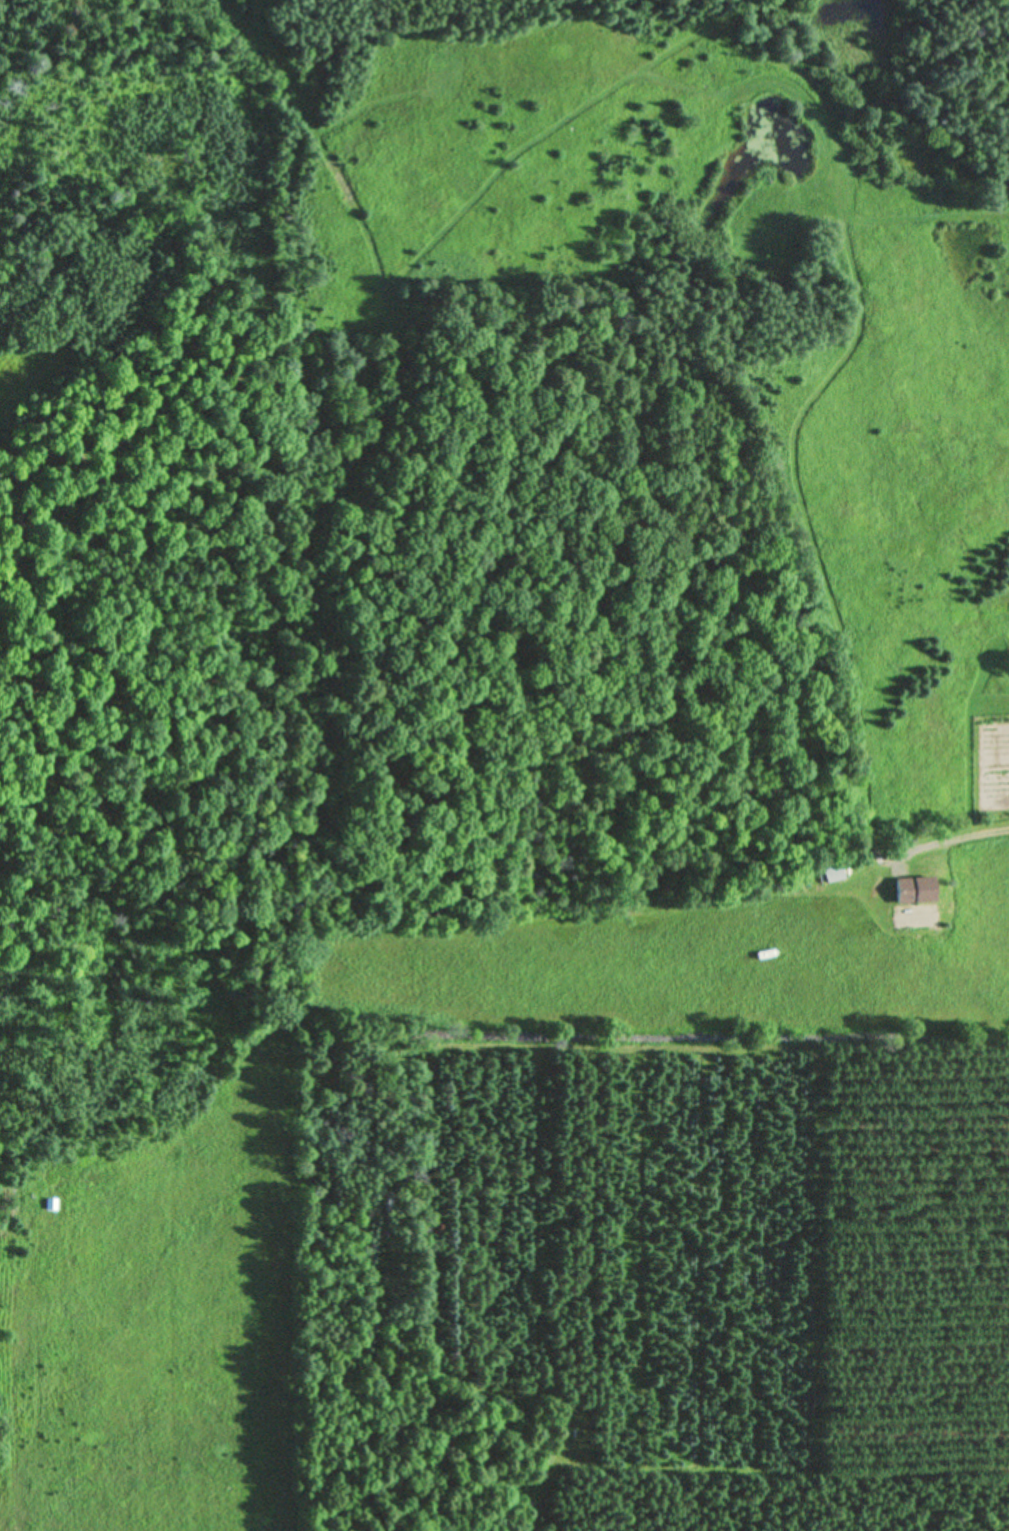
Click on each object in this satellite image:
building: (834, 876)
building: (915, 893)

